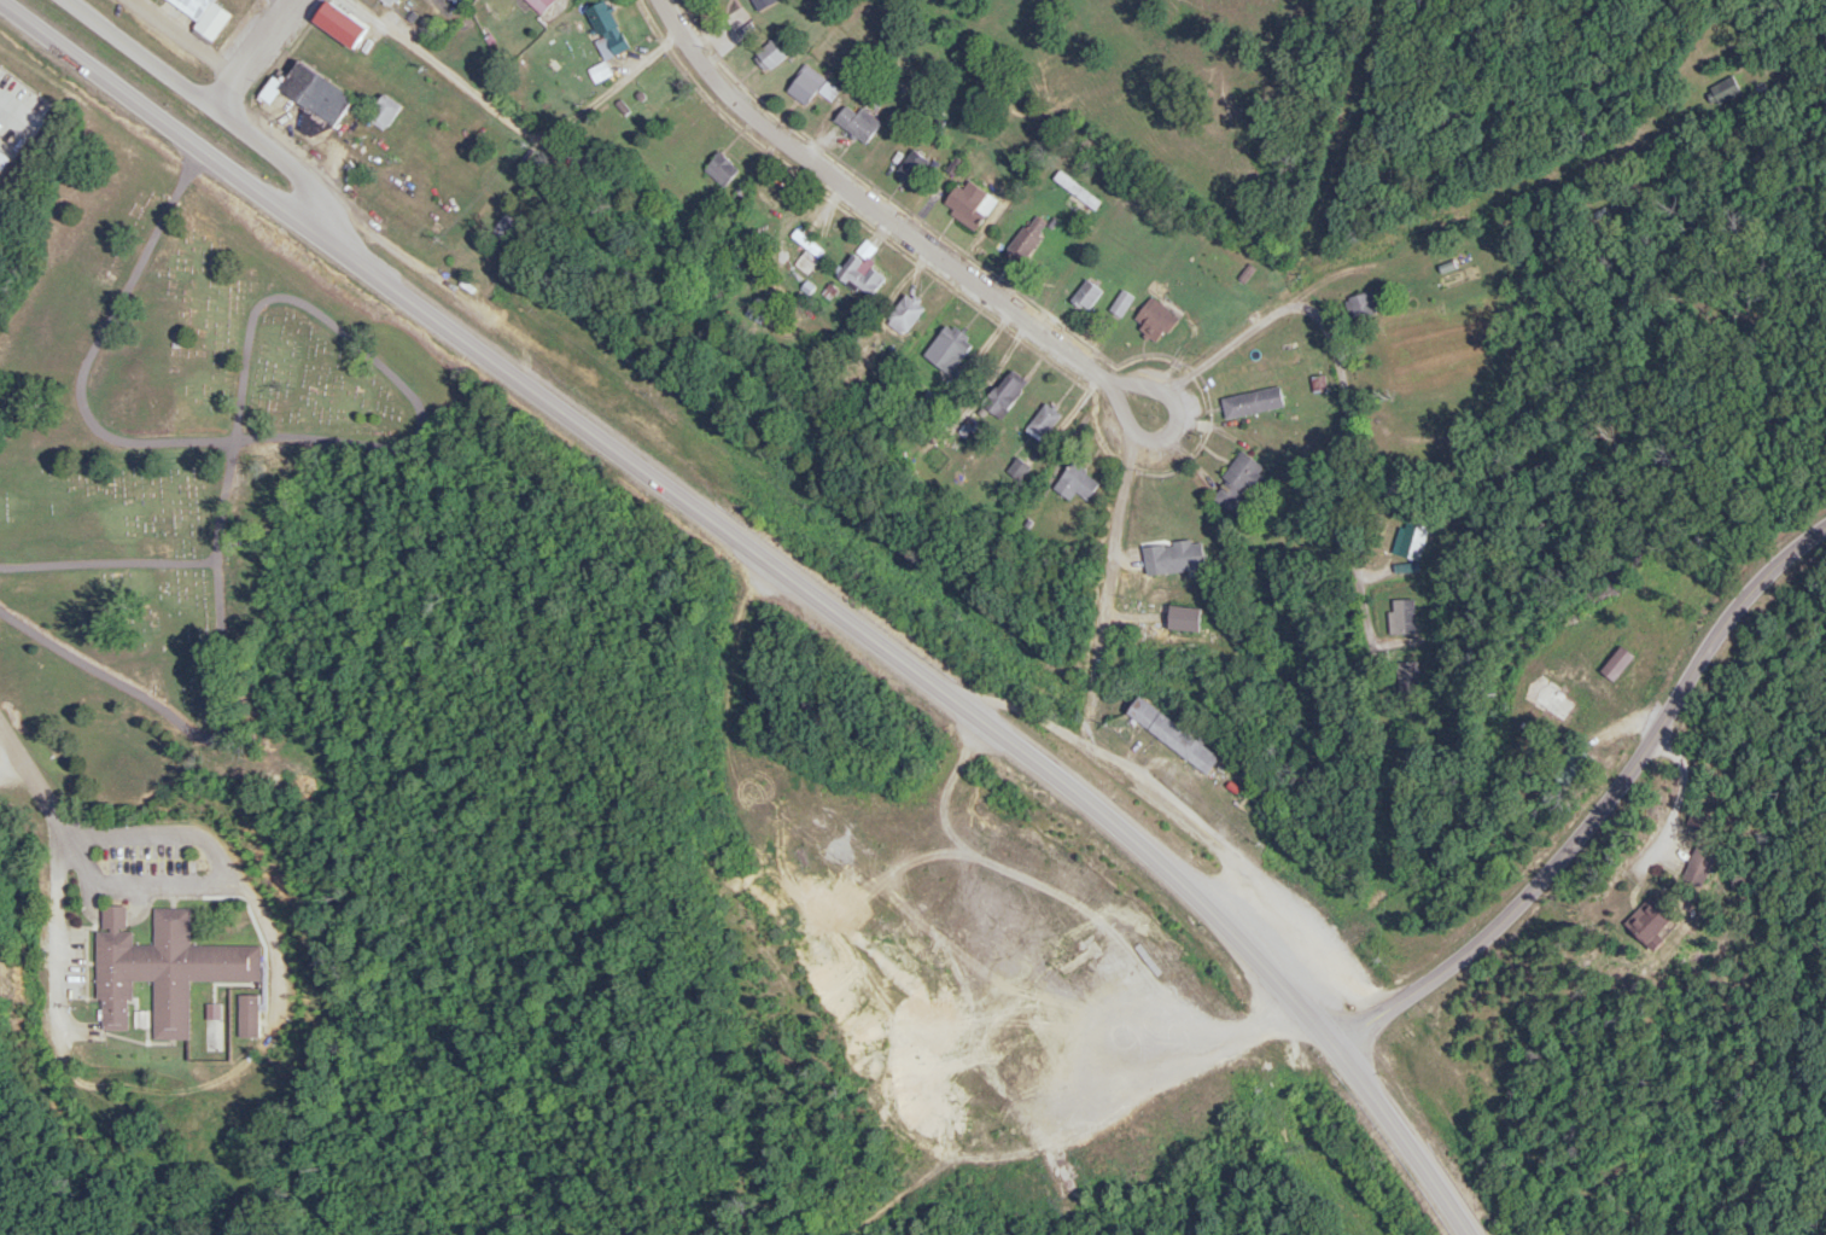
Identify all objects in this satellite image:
road: (287, 1)
building: (760, 4)
building: (539, 5)
building: (210, 14)
building: (345, 24)
road: (185, 39)
building: (606, 39)
road: (252, 53)
building: (772, 53)
building: (810, 87)
building: (1725, 91)
building: (314, 92)
building: (386, 112)
road: (512, 118)
road: (232, 121)
building: (858, 123)
building: (1, 138)
building: (911, 167)
building: (723, 170)
building: (1078, 193)
building: (967, 199)
road: (894, 223)
building: (1028, 237)
building: (862, 270)
building: (1087, 293)
building: (1122, 303)
building: (1364, 307)
building: (906, 311)
building: (1155, 320)
building: (949, 348)
road: (1340, 377)
building: (1005, 392)
building: (1254, 402)
road: (1122, 415)
building: (1044, 419)
park: (175, 441)
building: (1019, 468)
building: (1244, 472)
building: (1079, 483)
building: (1229, 497)
building: (1417, 531)
road: (1110, 557)
building: (1175, 557)
road: (778, 572)
building: (1404, 617)
building: (1175, 735)
road: (34, 777)
road: (1604, 808)
road: (1201, 831)
road: (203, 839)
building: (1707, 862)
road: (1220, 880)
building: (119, 917)
building: (1658, 922)
building: (167, 972)
building: (246, 1015)

